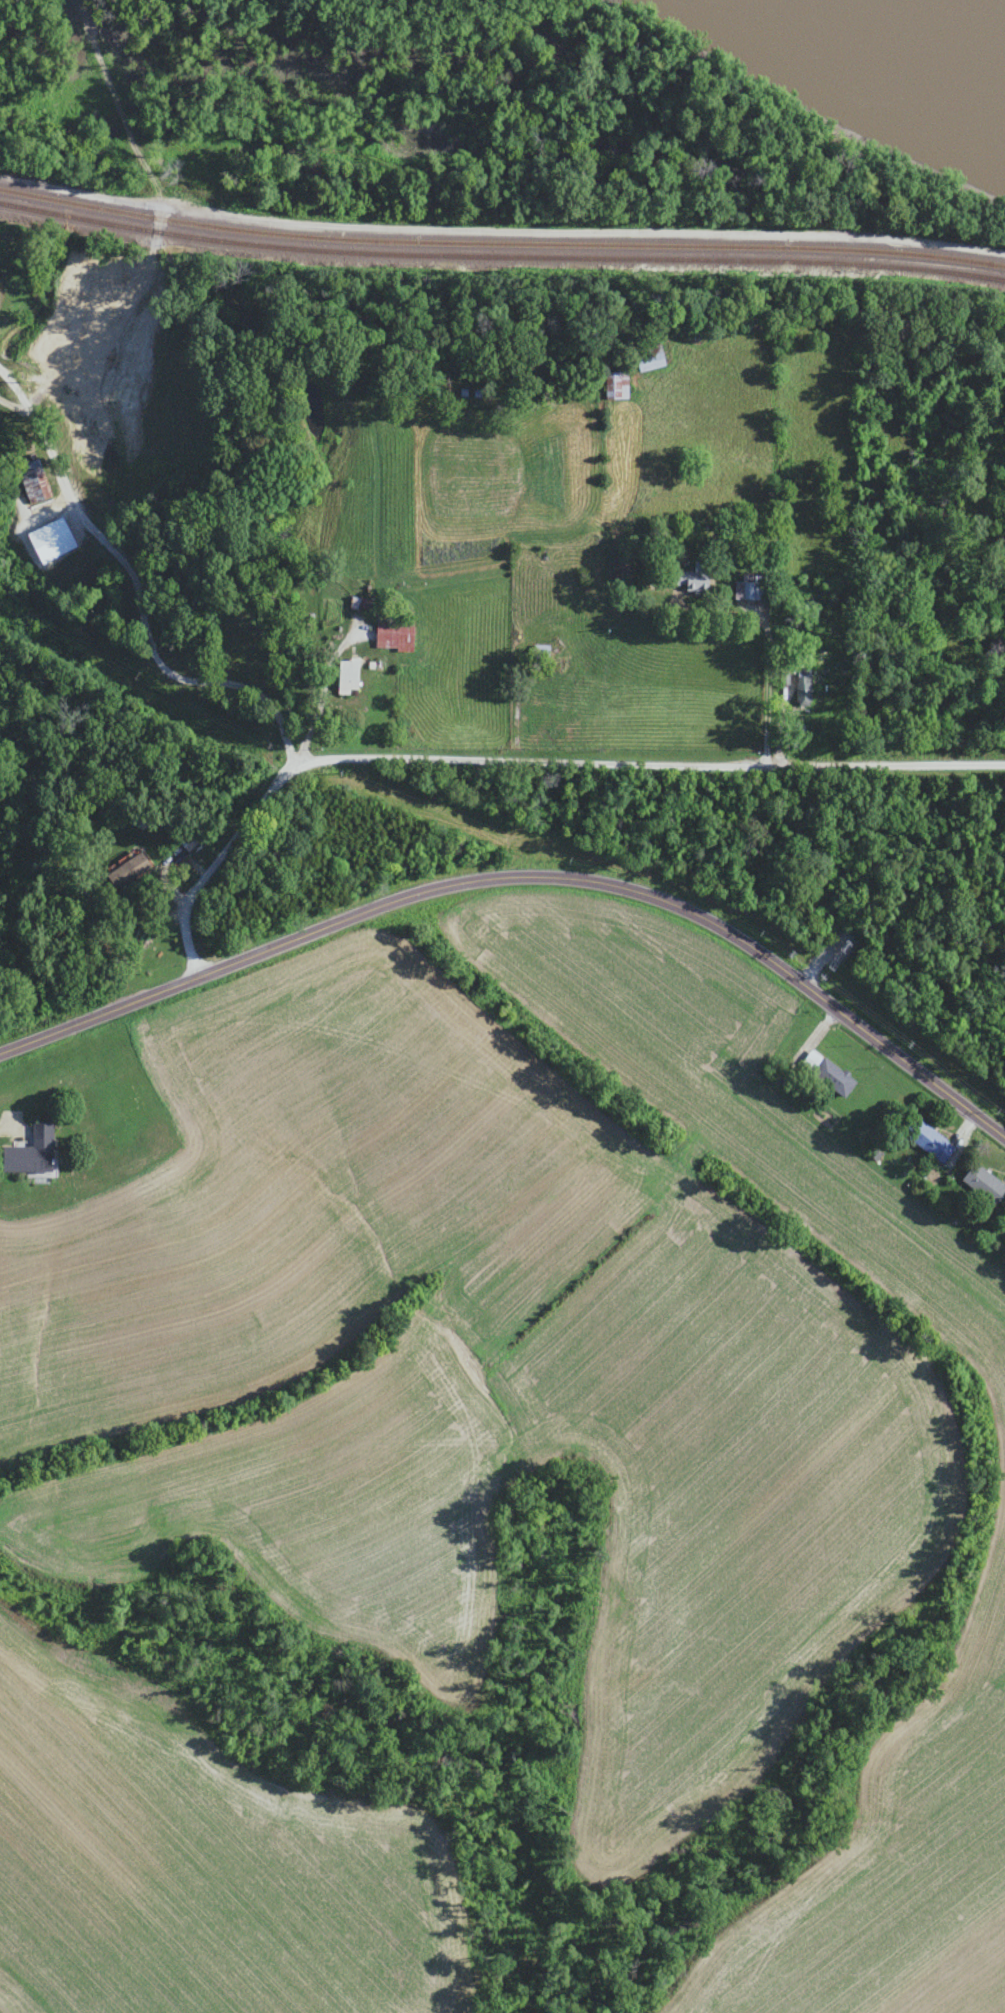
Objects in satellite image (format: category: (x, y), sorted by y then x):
railway: (501, 238)
railway: (501, 249)
building: (632, 357)
building: (603, 384)
building: (31, 482)
building: (686, 578)
building: (747, 588)
road: (122, 620)
building: (389, 637)
road: (759, 647)
building: (994, 650)
building: (537, 651)
building: (343, 676)
building: (799, 688)
road: (657, 764)
road: (252, 818)
building: (186, 841)
building: (125, 870)
road: (525, 878)
building: (824, 1074)
road: (18, 1127)
building: (924, 1140)
building: (27, 1153)
building: (980, 1184)

